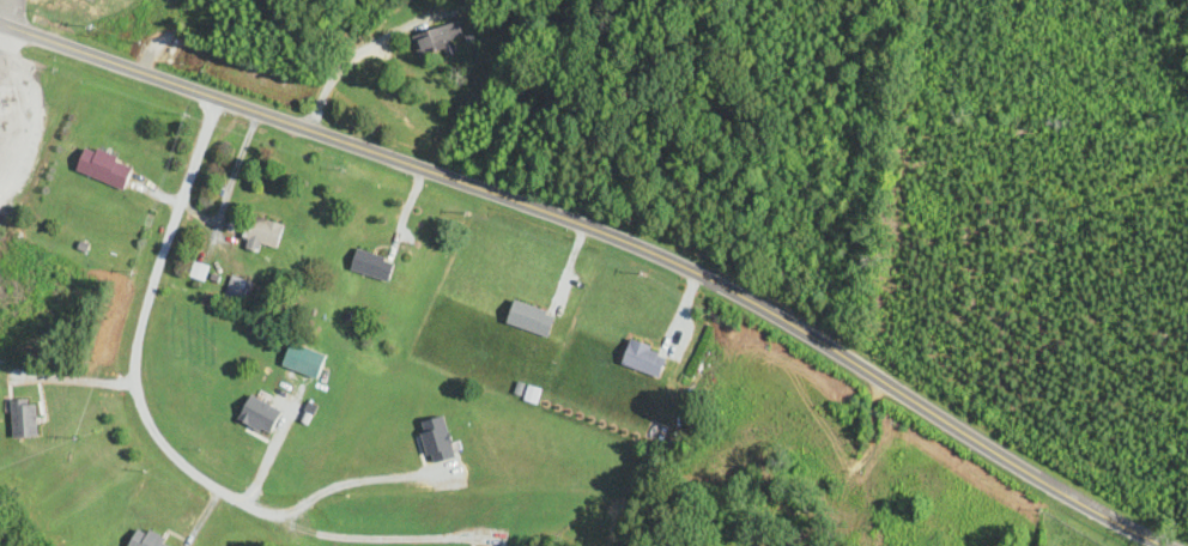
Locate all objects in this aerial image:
road: (4, 34)
building: (438, 40)
road: (19, 108)
building: (105, 169)
building: (262, 235)
road: (589, 235)
building: (374, 266)
building: (198, 274)
building: (238, 290)
building: (532, 320)
building: (645, 359)
building: (25, 419)
building: (147, 538)

